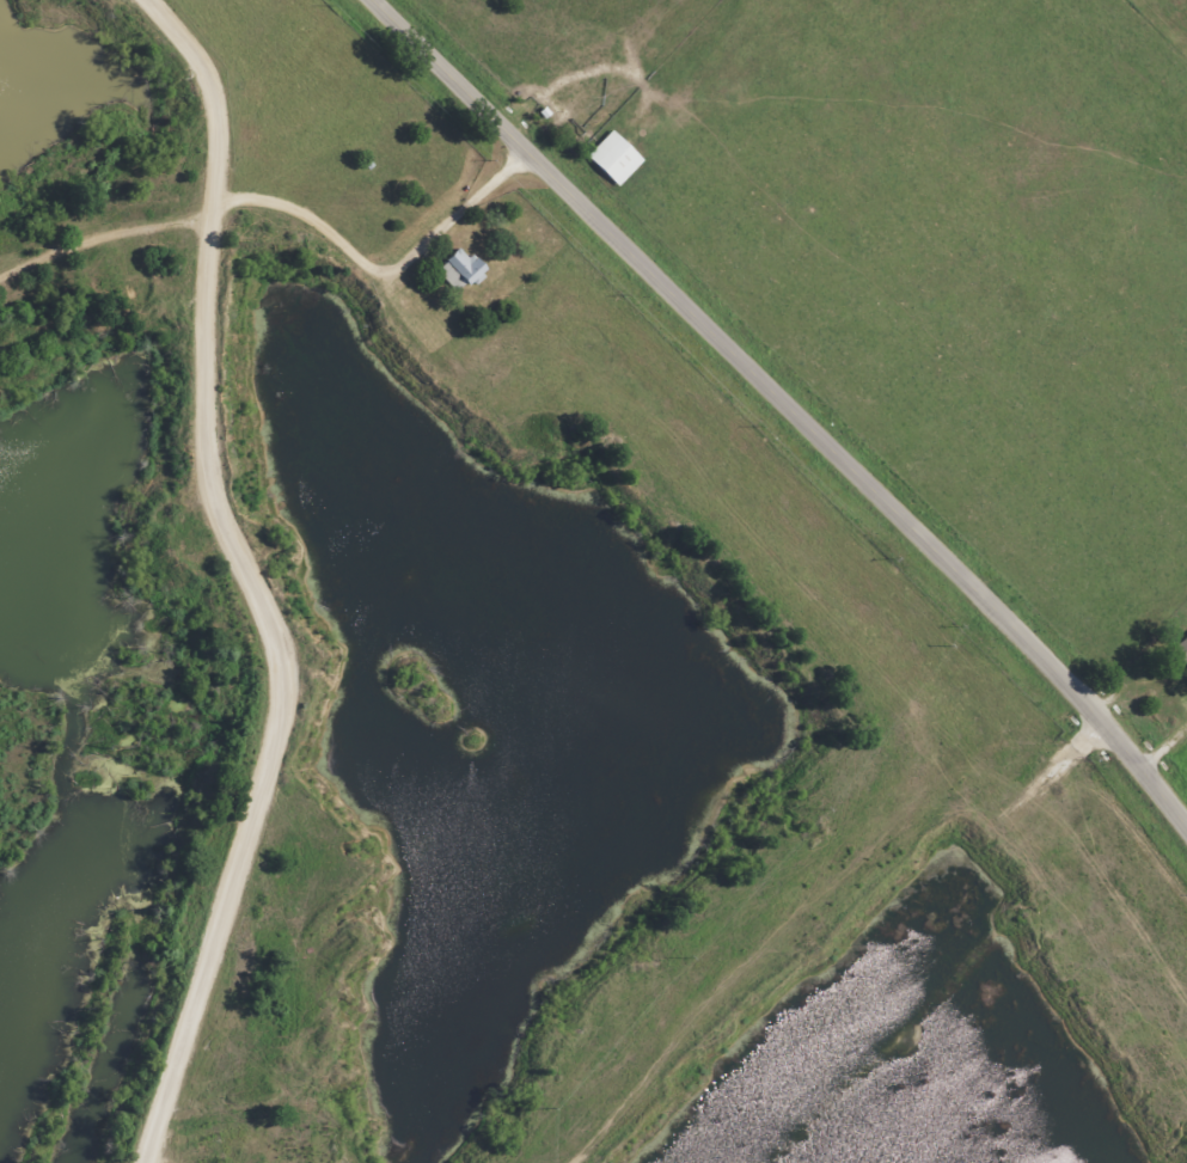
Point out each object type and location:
building: (607, 154)
building: (457, 270)
road: (306, 392)
road: (785, 405)
building: (1180, 651)
road: (1168, 760)
road: (922, 907)

